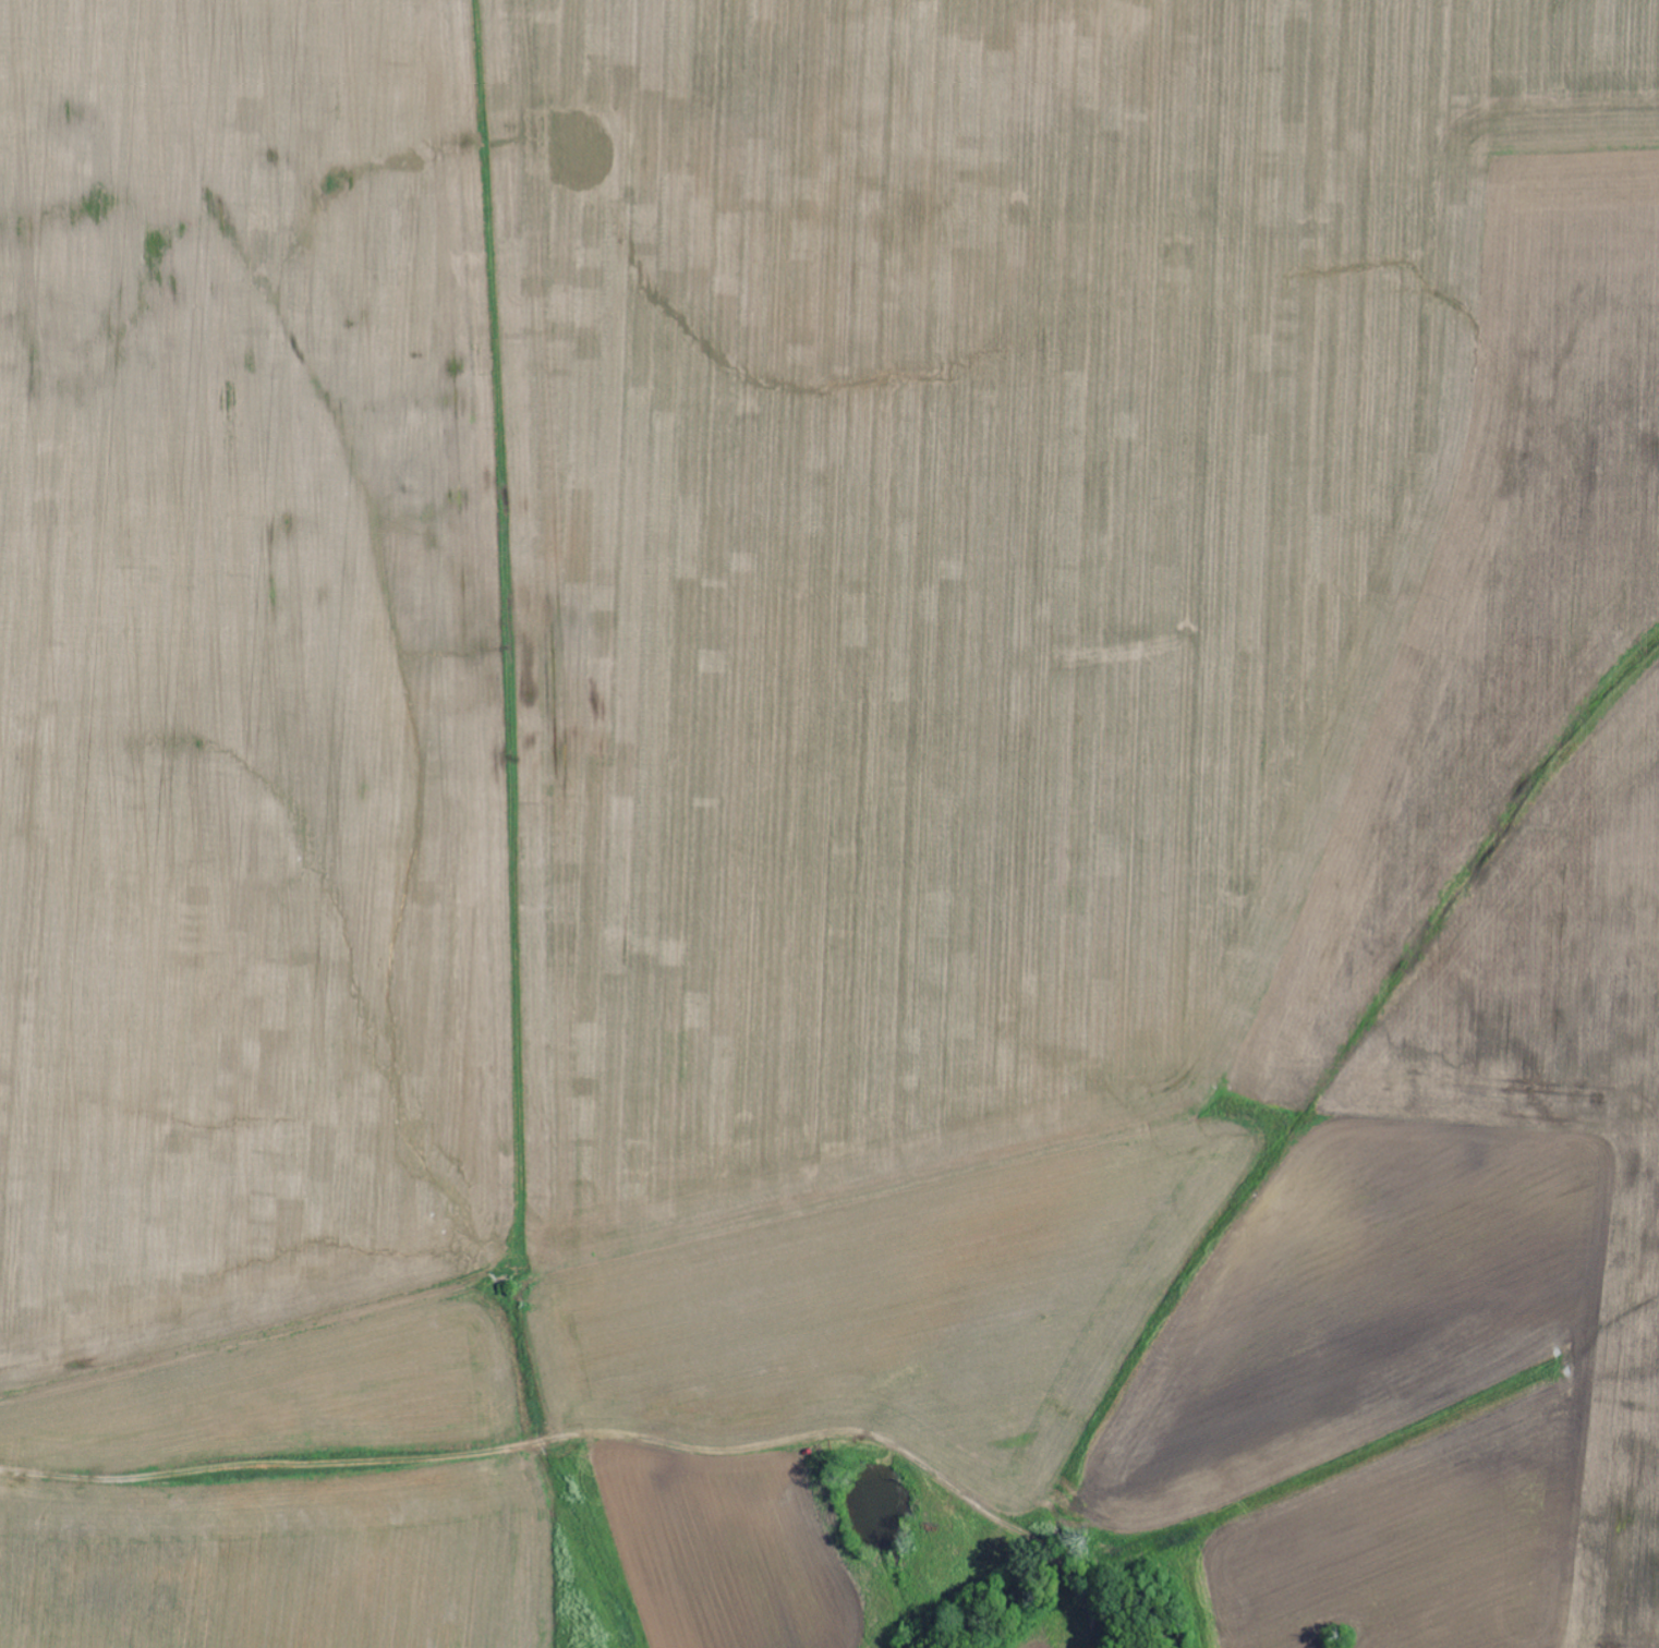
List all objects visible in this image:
road: (46, 1474)

